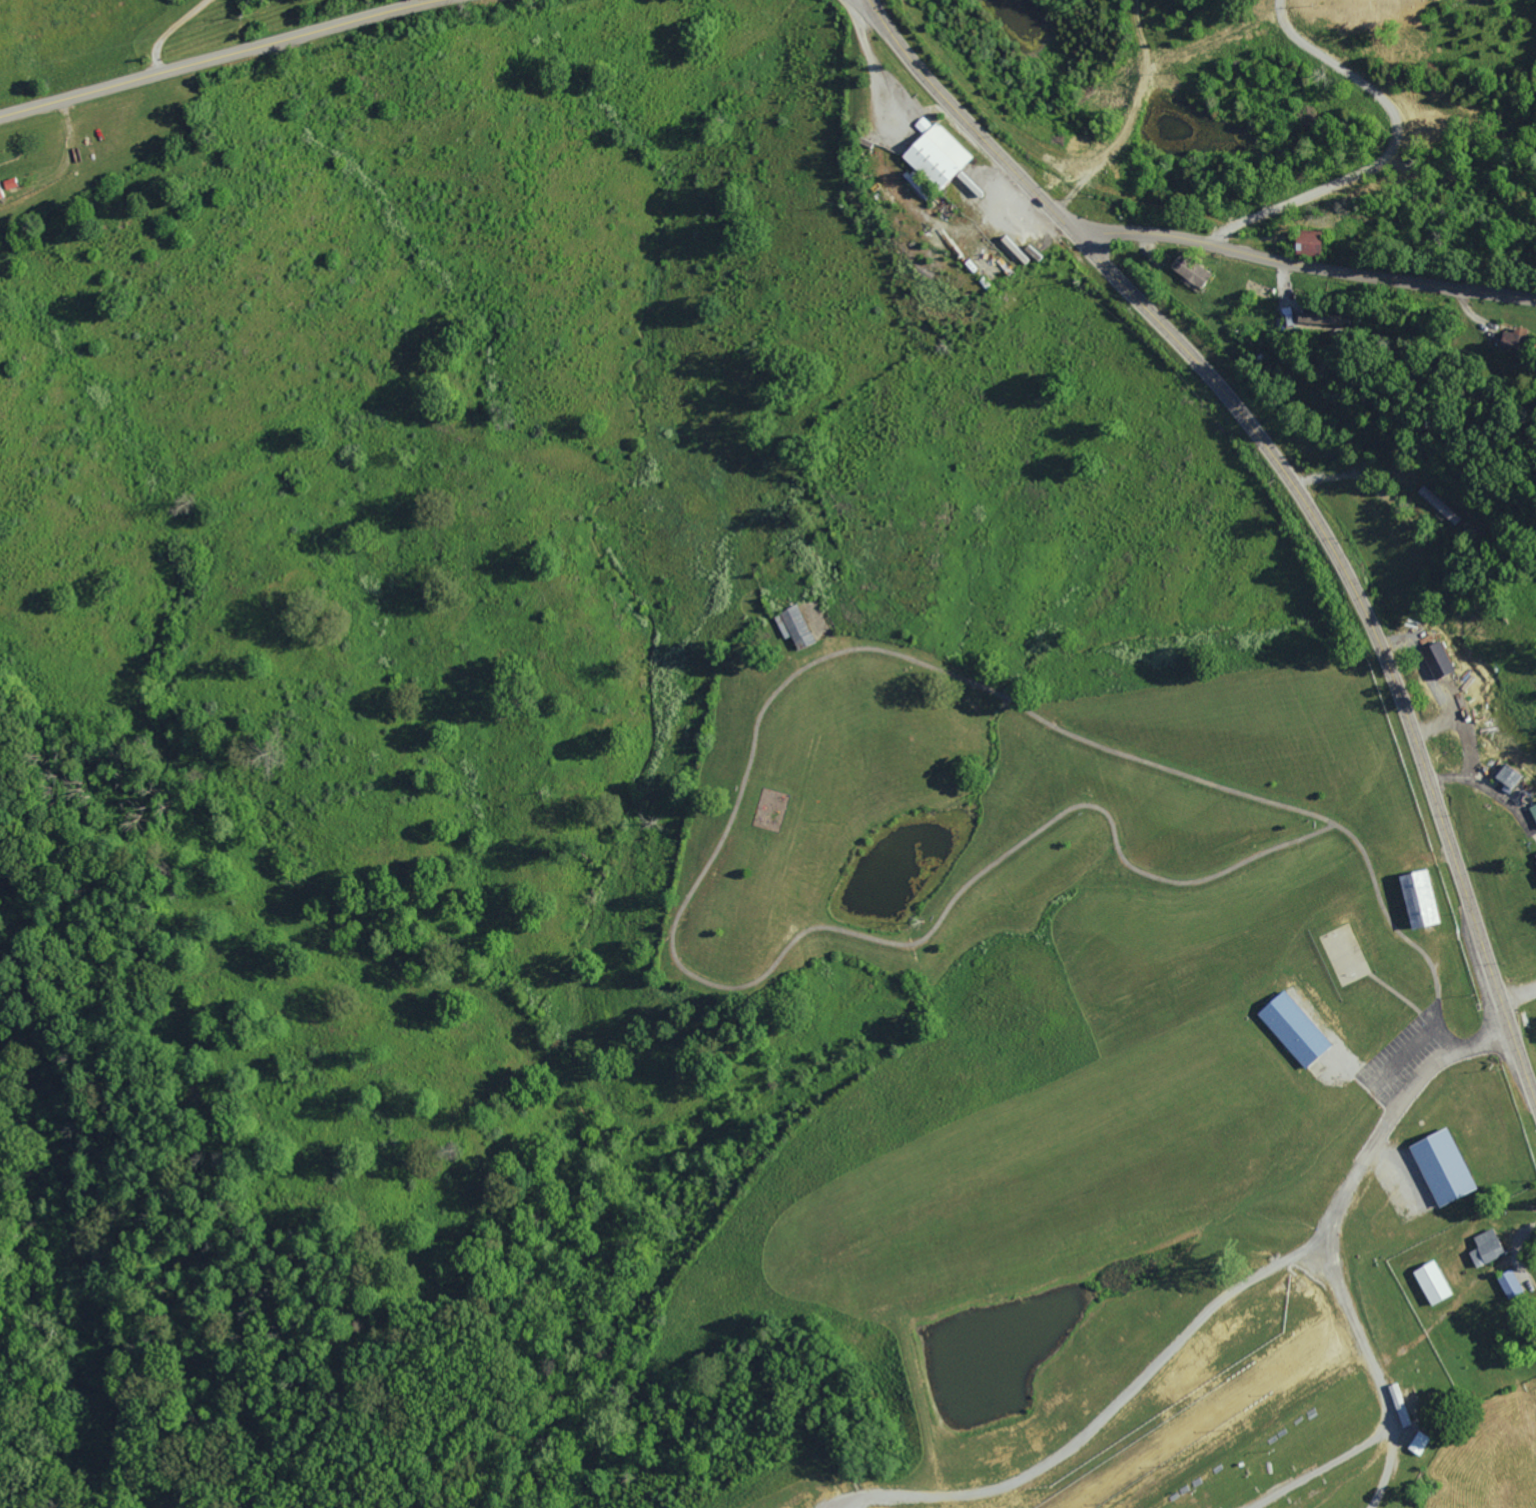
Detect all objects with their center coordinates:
road: (170, 30)
road: (221, 57)
road: (870, 61)
road: (965, 120)
building: (934, 154)
building: (4, 190)
road: (100, 229)
building: (1305, 244)
building: (1010, 251)
building: (1002, 264)
road: (1303, 266)
building: (1189, 272)
building: (1513, 340)
building: (793, 626)
road: (1373, 627)
building: (1436, 659)
road: (1013, 703)
building: (1504, 775)
building: (1533, 811)
road: (1000, 855)
building: (1534, 862)
building: (1416, 898)
park: (1052, 940)
road: (2, 1002)
building: (1291, 1028)
road: (1391, 1116)
building: (1441, 1166)
building: (1486, 1248)
building: (1431, 1282)
building: (1509, 1284)
road: (1377, 1376)
road: (1098, 1423)

